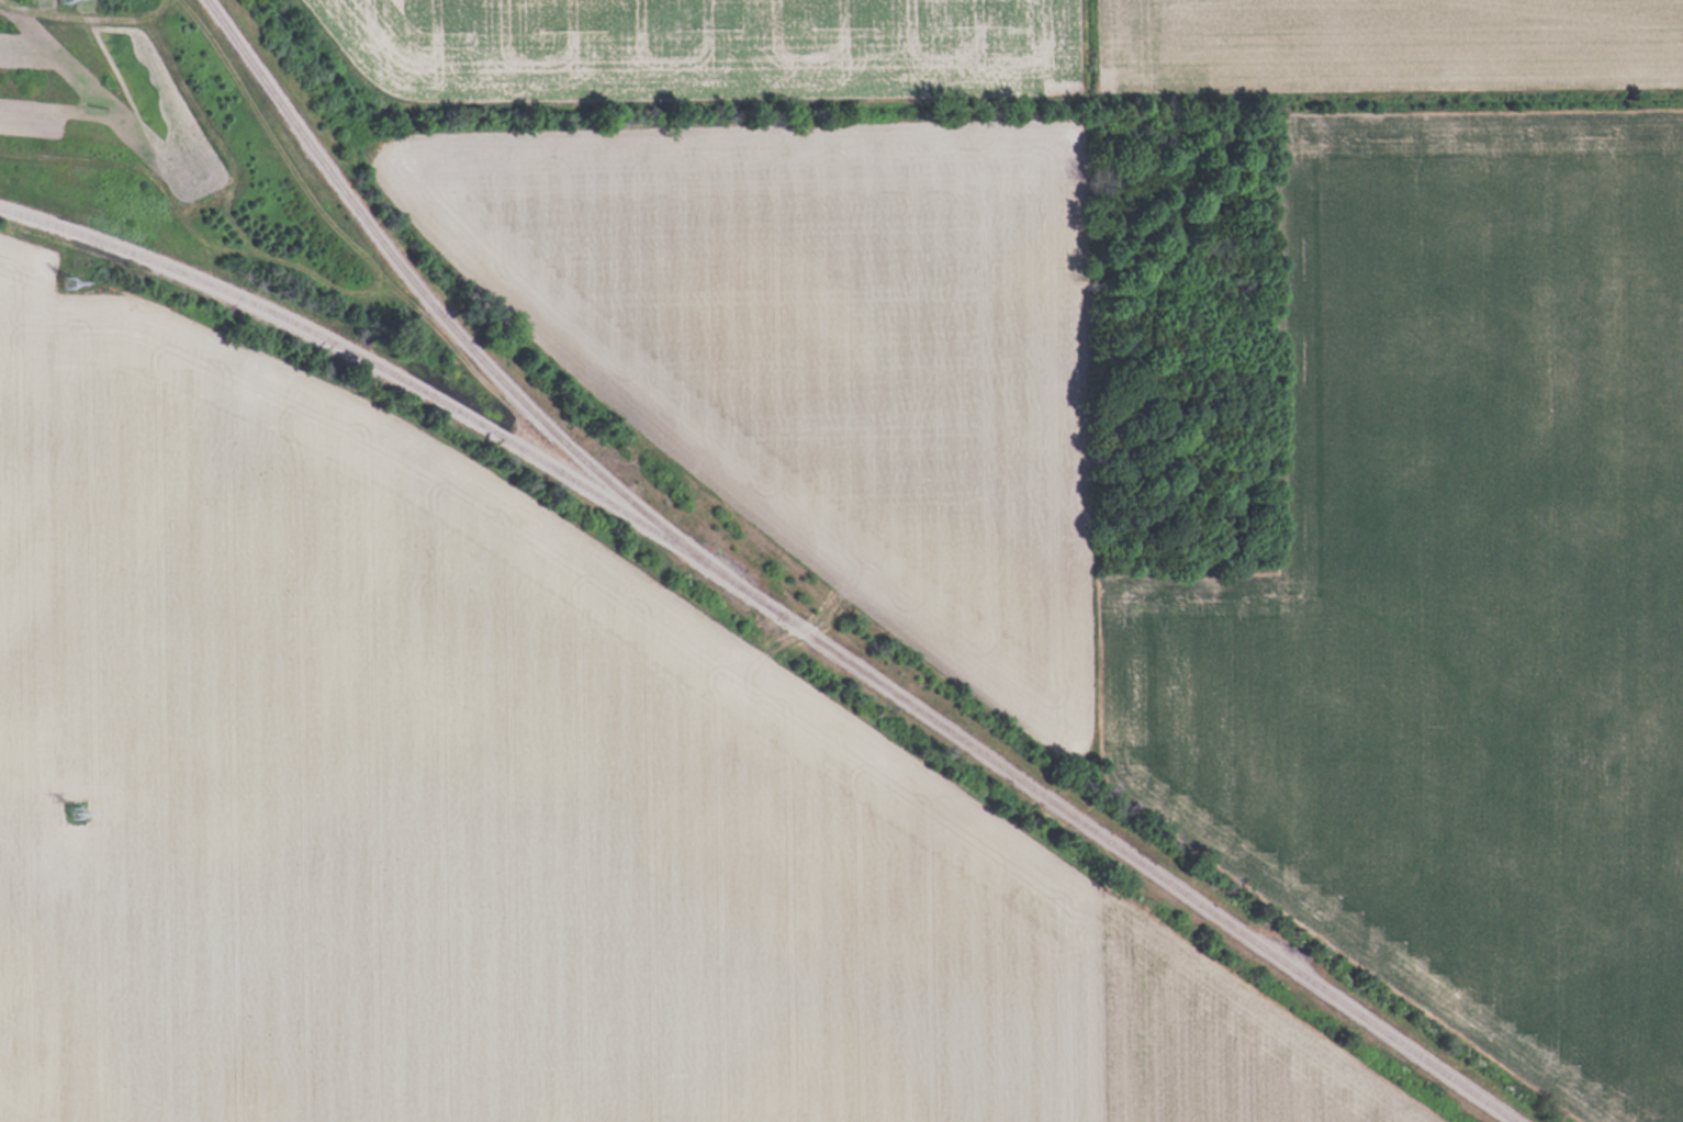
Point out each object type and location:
power tower: (71, 285)
railway: (441, 311)
railway: (377, 366)
power tower: (79, 819)
railway: (1121, 849)

